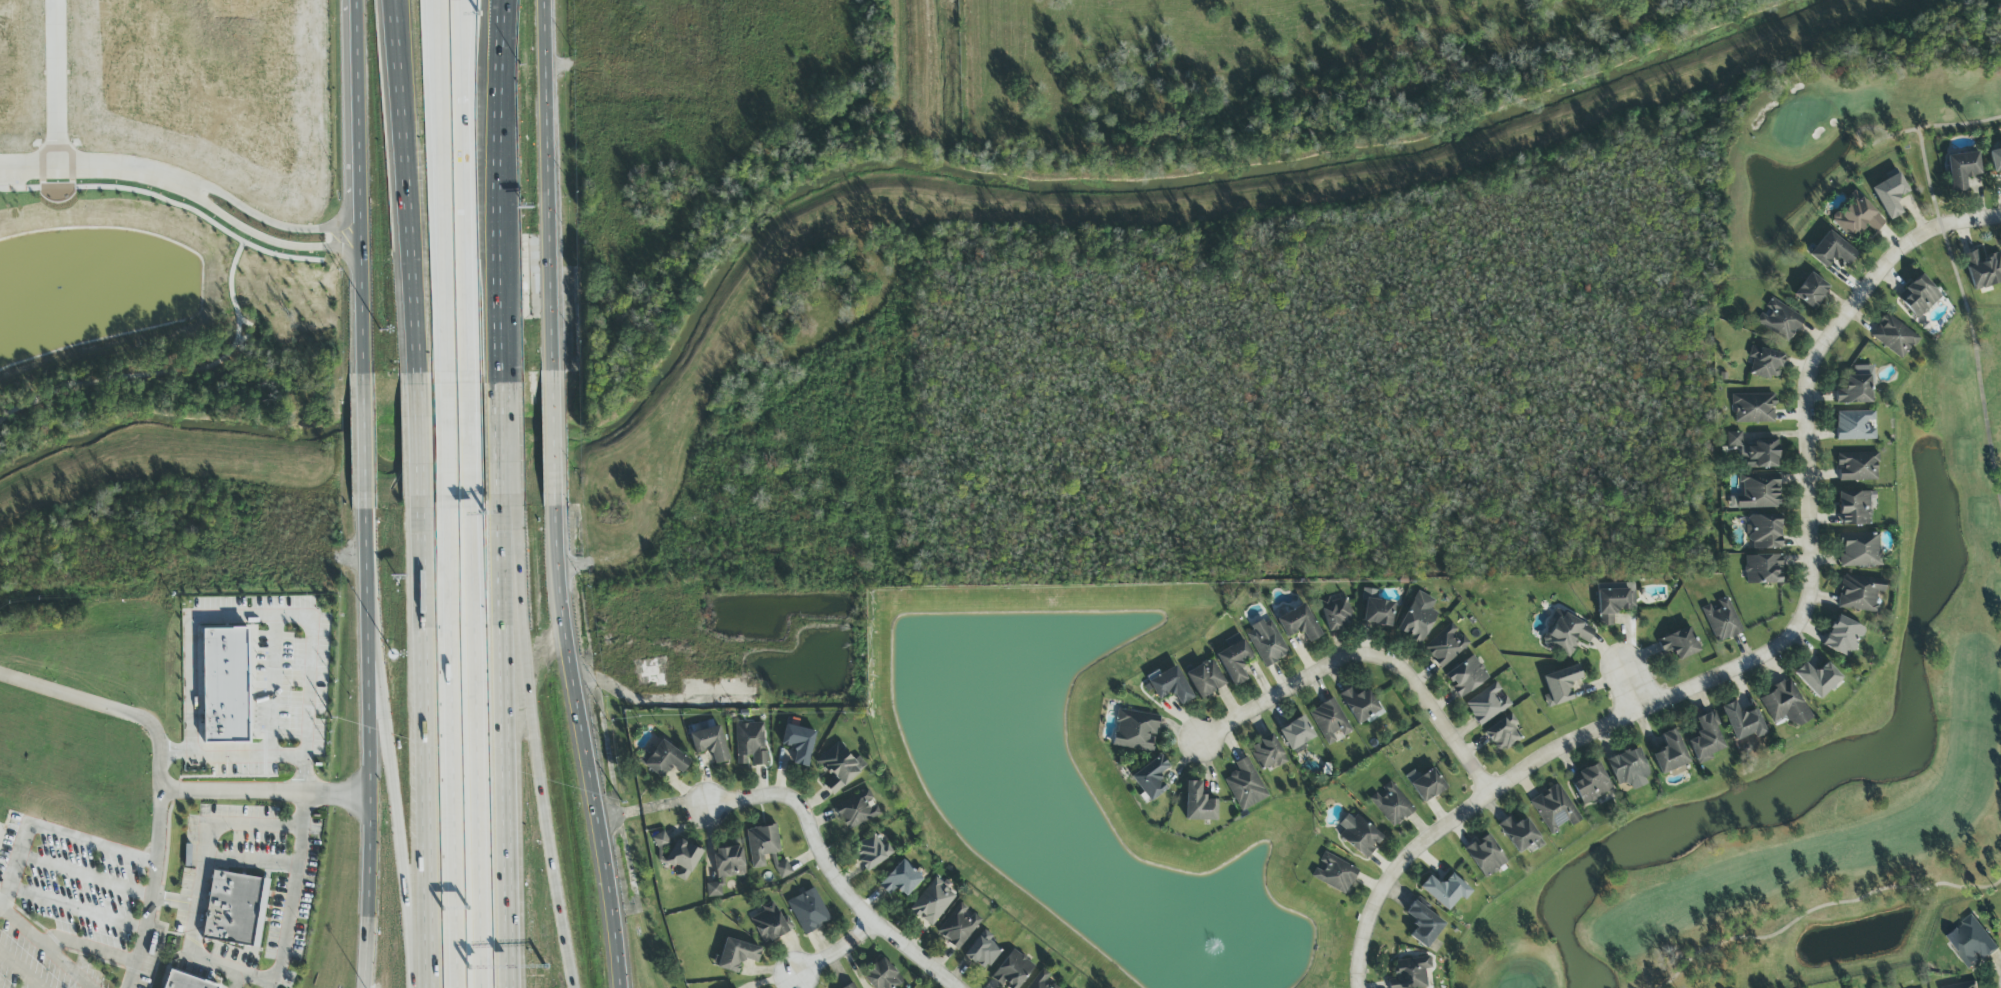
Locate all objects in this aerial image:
road: (460, 51)
road: (463, 51)
park: (1260, 70)
road: (56, 85)
road: (497, 105)
road: (505, 105)
road: (355, 114)
road: (397, 127)
road: (404, 127)
river: (1382, 152)
building: (1995, 161)
building: (1961, 170)
road: (94, 171)
road: (551, 186)
road: (439, 189)
building: (1889, 195)
building: (1855, 218)
road: (1971, 220)
road: (269, 223)
road: (463, 238)
road: (265, 241)
building: (1831, 251)
building: (1982, 270)
road: (502, 291)
building: (1810, 291)
building: (1918, 297)
road: (360, 300)
road: (413, 313)
building: (1779, 320)
building: (1893, 337)
building: (1765, 363)
building: (1856, 387)
building: (1753, 409)
building: (1855, 426)
road: (469, 438)
river: (512, 438)
road: (505, 439)
road: (554, 439)
road: (443, 440)
road: (419, 441)
road: (363, 442)
building: (1754, 452)
building: (1857, 467)
building: (1757, 492)
building: (1854, 509)
park: (1948, 519)
building: (1764, 532)
building: (1860, 550)
building: (1762, 569)
road: (1813, 576)
building: (1859, 593)
building: (1613, 604)
building: (1335, 613)
building: (1377, 613)
building: (1417, 618)
road: (249, 621)
building: (1722, 621)
building: (1298, 624)
building: (1567, 635)
building: (1842, 637)
building: (1266, 643)
building: (1679, 644)
building: (1446, 646)
road: (1369, 655)
building: (1234, 659)
building: (1466, 677)
building: (1205, 679)
road: (1631, 679)
building: (1817, 679)
building: (225, 686)
building: (1169, 686)
building: (1559, 686)
road: (272, 691)
building: (1487, 704)
building: (1785, 704)
building: (1359, 705)
road: (108, 708)
building: (1329, 721)
building: (1743, 725)
building: (1135, 731)
building: (1296, 734)
building: (1502, 734)
building: (1706, 739)
building: (709, 744)
building: (750, 744)
building: (798, 744)
road: (447, 745)
road: (475, 746)
road: (587, 746)
road: (512, 747)
road: (544, 747)
road: (425, 748)
road: (369, 749)
building: (1267, 753)
building: (1669, 753)
road: (248, 760)
building: (665, 760)
building: (839, 767)
building: (1628, 769)
road: (389, 773)
building: (1150, 779)
building: (1425, 784)
building: (1590, 784)
building: (1244, 785)
road: (266, 791)
building: (1198, 804)
building: (1391, 805)
road: (652, 807)
building: (1554, 809)
building: (856, 810)
road: (54, 834)
building: (1358, 835)
building: (1520, 835)
building: (660, 840)
building: (762, 844)
building: (0, 846)
building: (871, 852)
building: (1485, 856)
building: (682, 859)
building: (725, 868)
building: (782, 869)
road: (829, 872)
road: (1396, 872)
road: (84, 873)
building: (1334, 874)
building: (899, 880)
road: (199, 888)
road: (292, 890)
road: (153, 891)
building: (1444, 891)
road: (174, 901)
building: (932, 902)
road: (74, 907)
building: (233, 908)
building: (808, 911)
building: (770, 924)
building: (1423, 925)
building: (958, 926)
building: (1971, 942)
road: (50, 948)
road: (835, 951)
building: (982, 952)
road: (87, 954)
building: (735, 955)
road: (21, 970)
building: (1011, 971)
building: (1410, 973)
building: (882, 976)
road: (234, 980)
building: (186, 981)
building: (1041, 981)
building: (851, 986)

